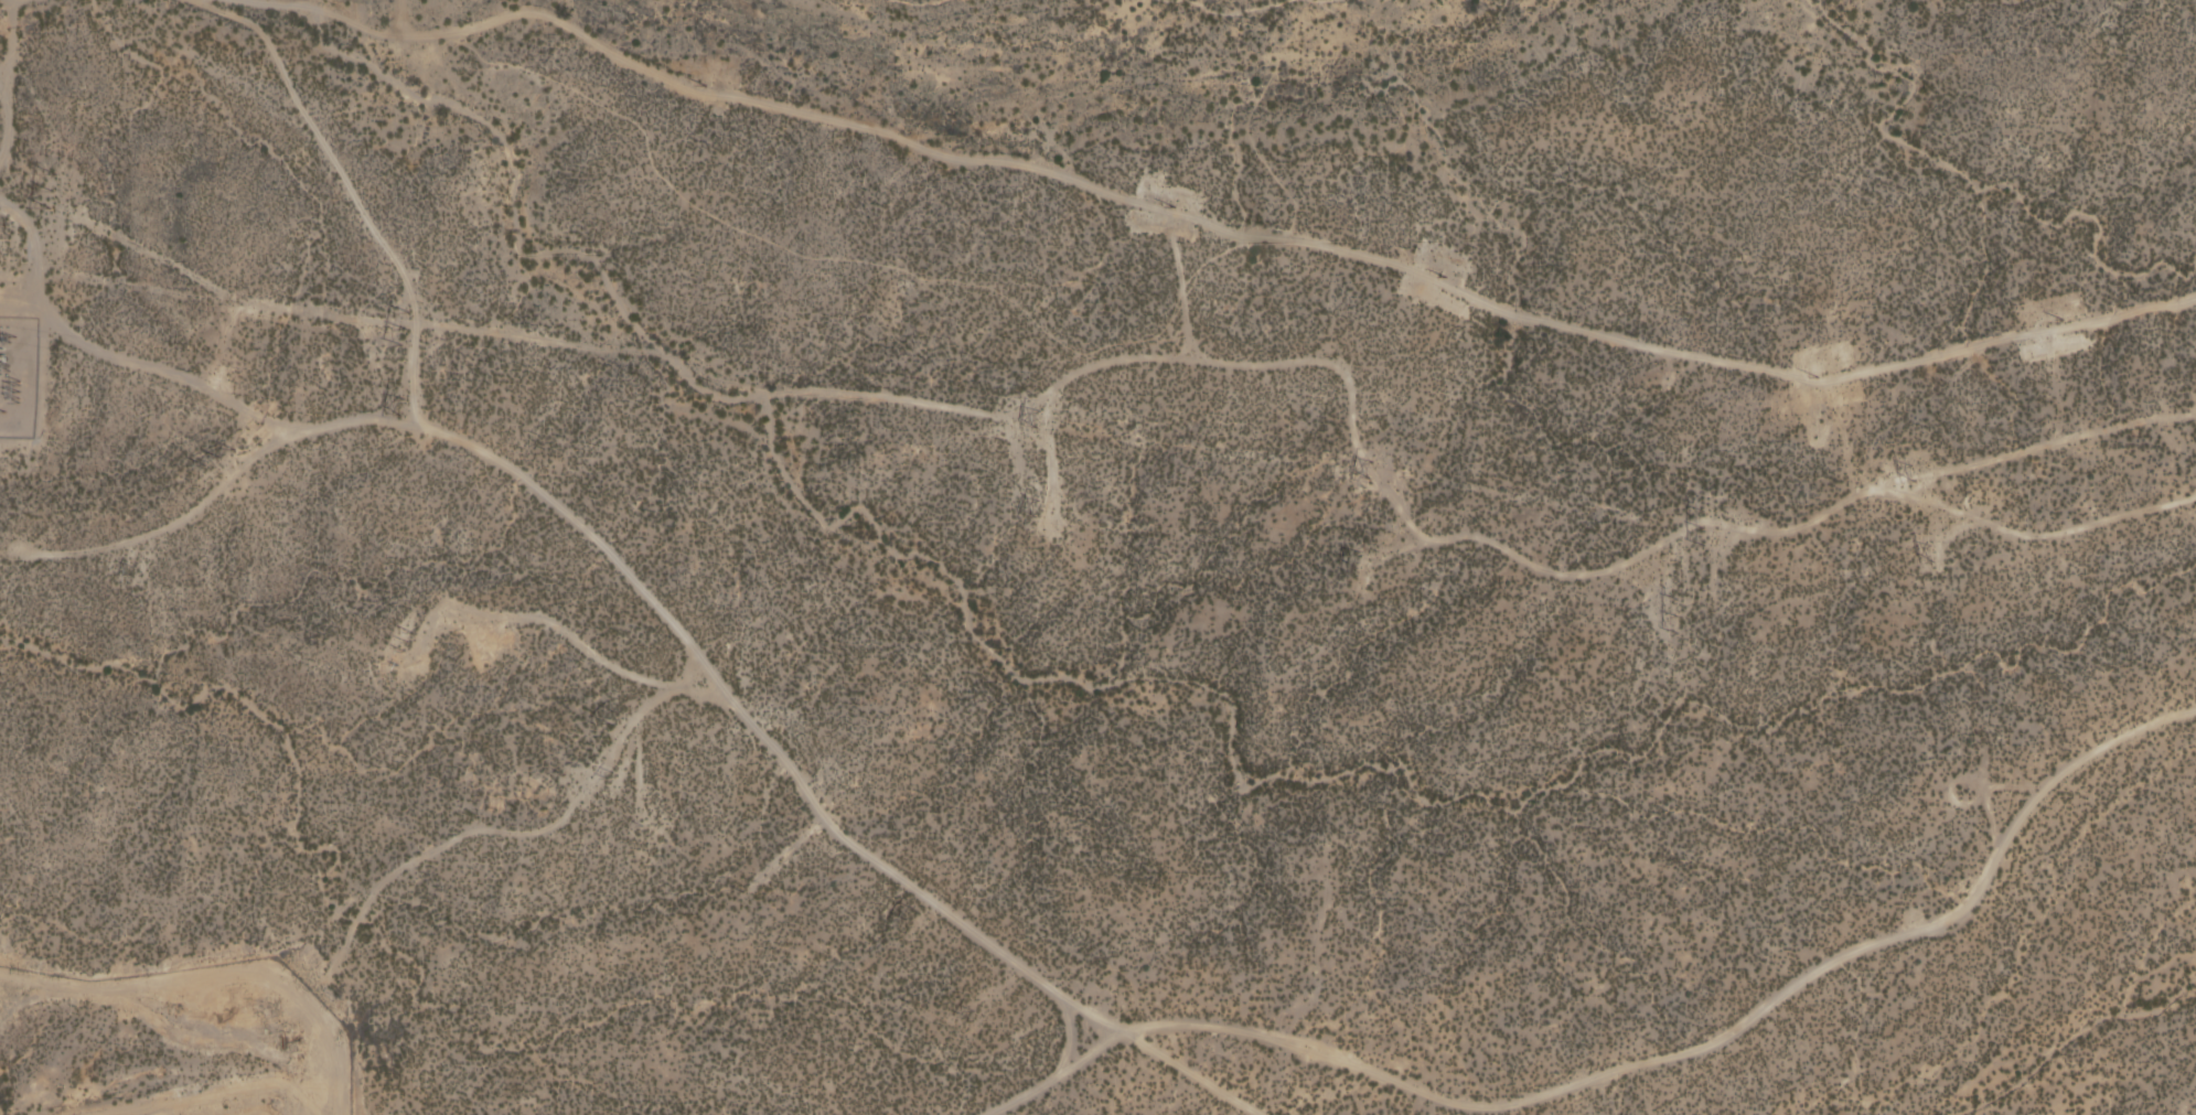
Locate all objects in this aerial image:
road: (7, 77)
power tower: (701, 81)
road: (3, 88)
power tower: (52, 186)
power tower: (1170, 204)
road: (1203, 223)
power tower: (1444, 274)
road: (1181, 279)
power tower: (403, 325)
road: (526, 333)
road: (223, 343)
power tower: (1829, 372)
power substation: (17, 373)
road: (414, 373)
power tower: (401, 403)
power tower: (1036, 418)
power tower: (219, 455)
road: (1051, 455)
power tower: (1369, 468)
power tower: (1911, 472)
power tower: (1038, 507)
power tower: (1702, 524)
road: (159, 529)
road: (1389, 548)
power tower: (1930, 555)
power tower: (1357, 556)
road: (1523, 562)
power tower: (132, 567)
road: (1662, 582)
road: (640, 588)
power tower: (1674, 611)
road: (526, 618)
power tower: (410, 640)
power tower: (613, 716)
power tower: (610, 773)
road: (785, 855)
power tower: (909, 912)
road: (922, 916)
road: (354, 926)
road: (972, 1003)
power tower: (970, 1014)
road: (1068, 1033)
road: (1631, 1066)

